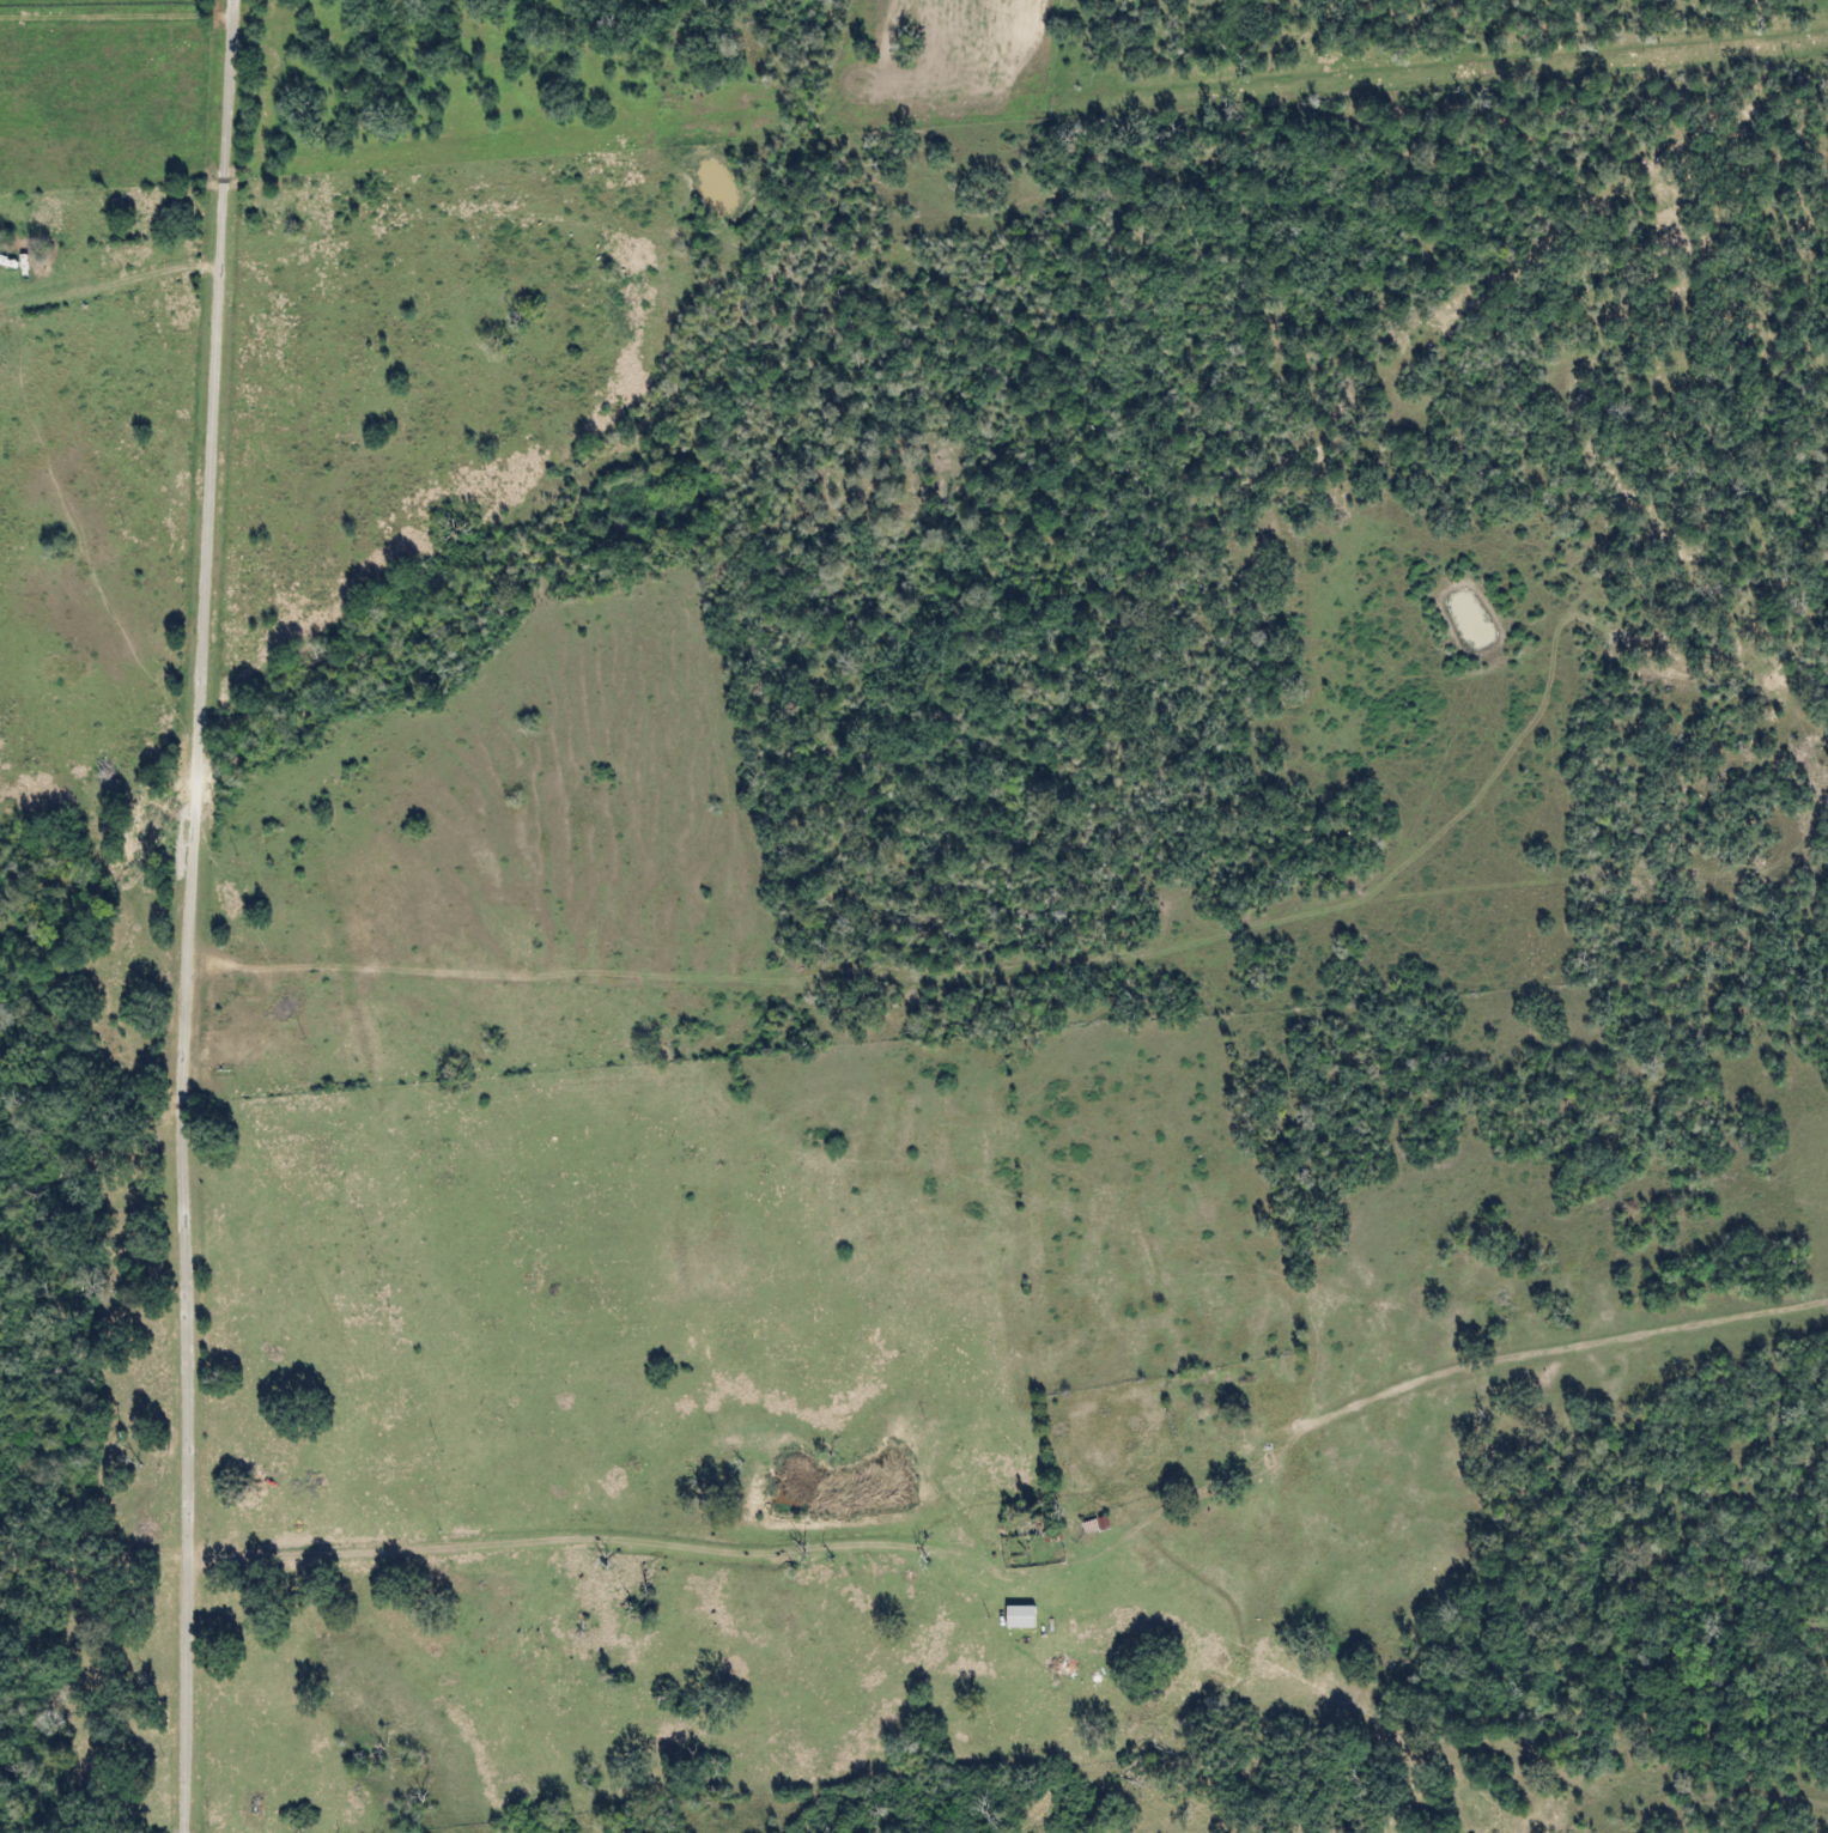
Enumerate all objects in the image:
road: (194, 916)
road: (1007, 1538)
building: (1016, 1616)

